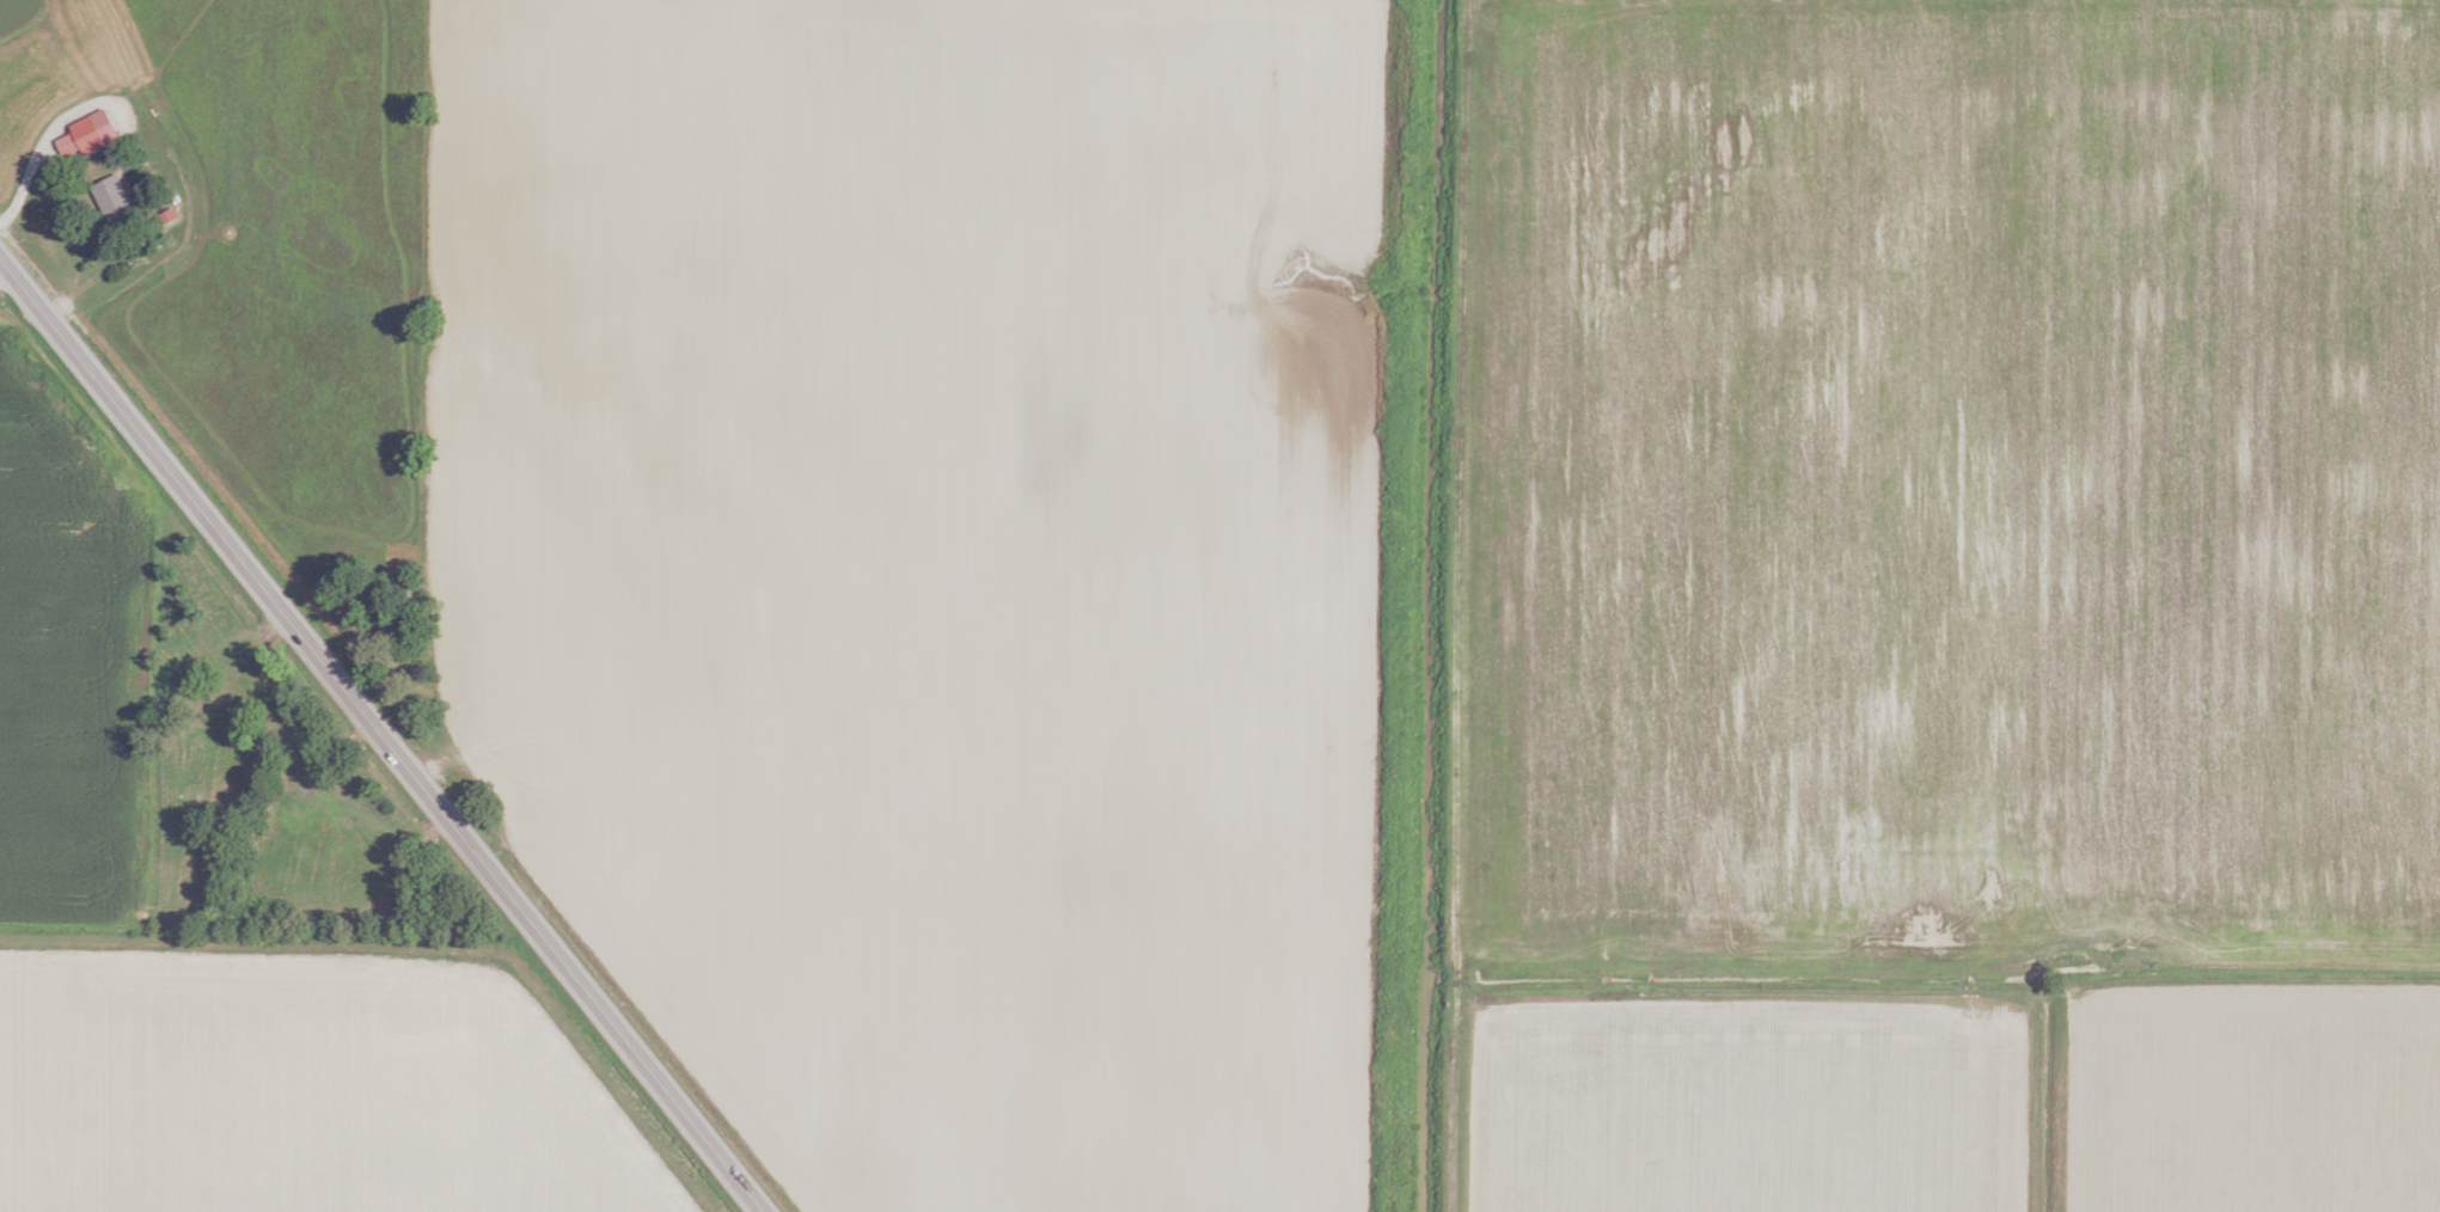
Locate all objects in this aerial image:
building: (86, 134)
road: (45, 145)
building: (112, 202)
road: (6, 277)
building: (397, 586)
building: (233, 692)
road: (381, 733)
building: (285, 806)
building: (338, 830)

